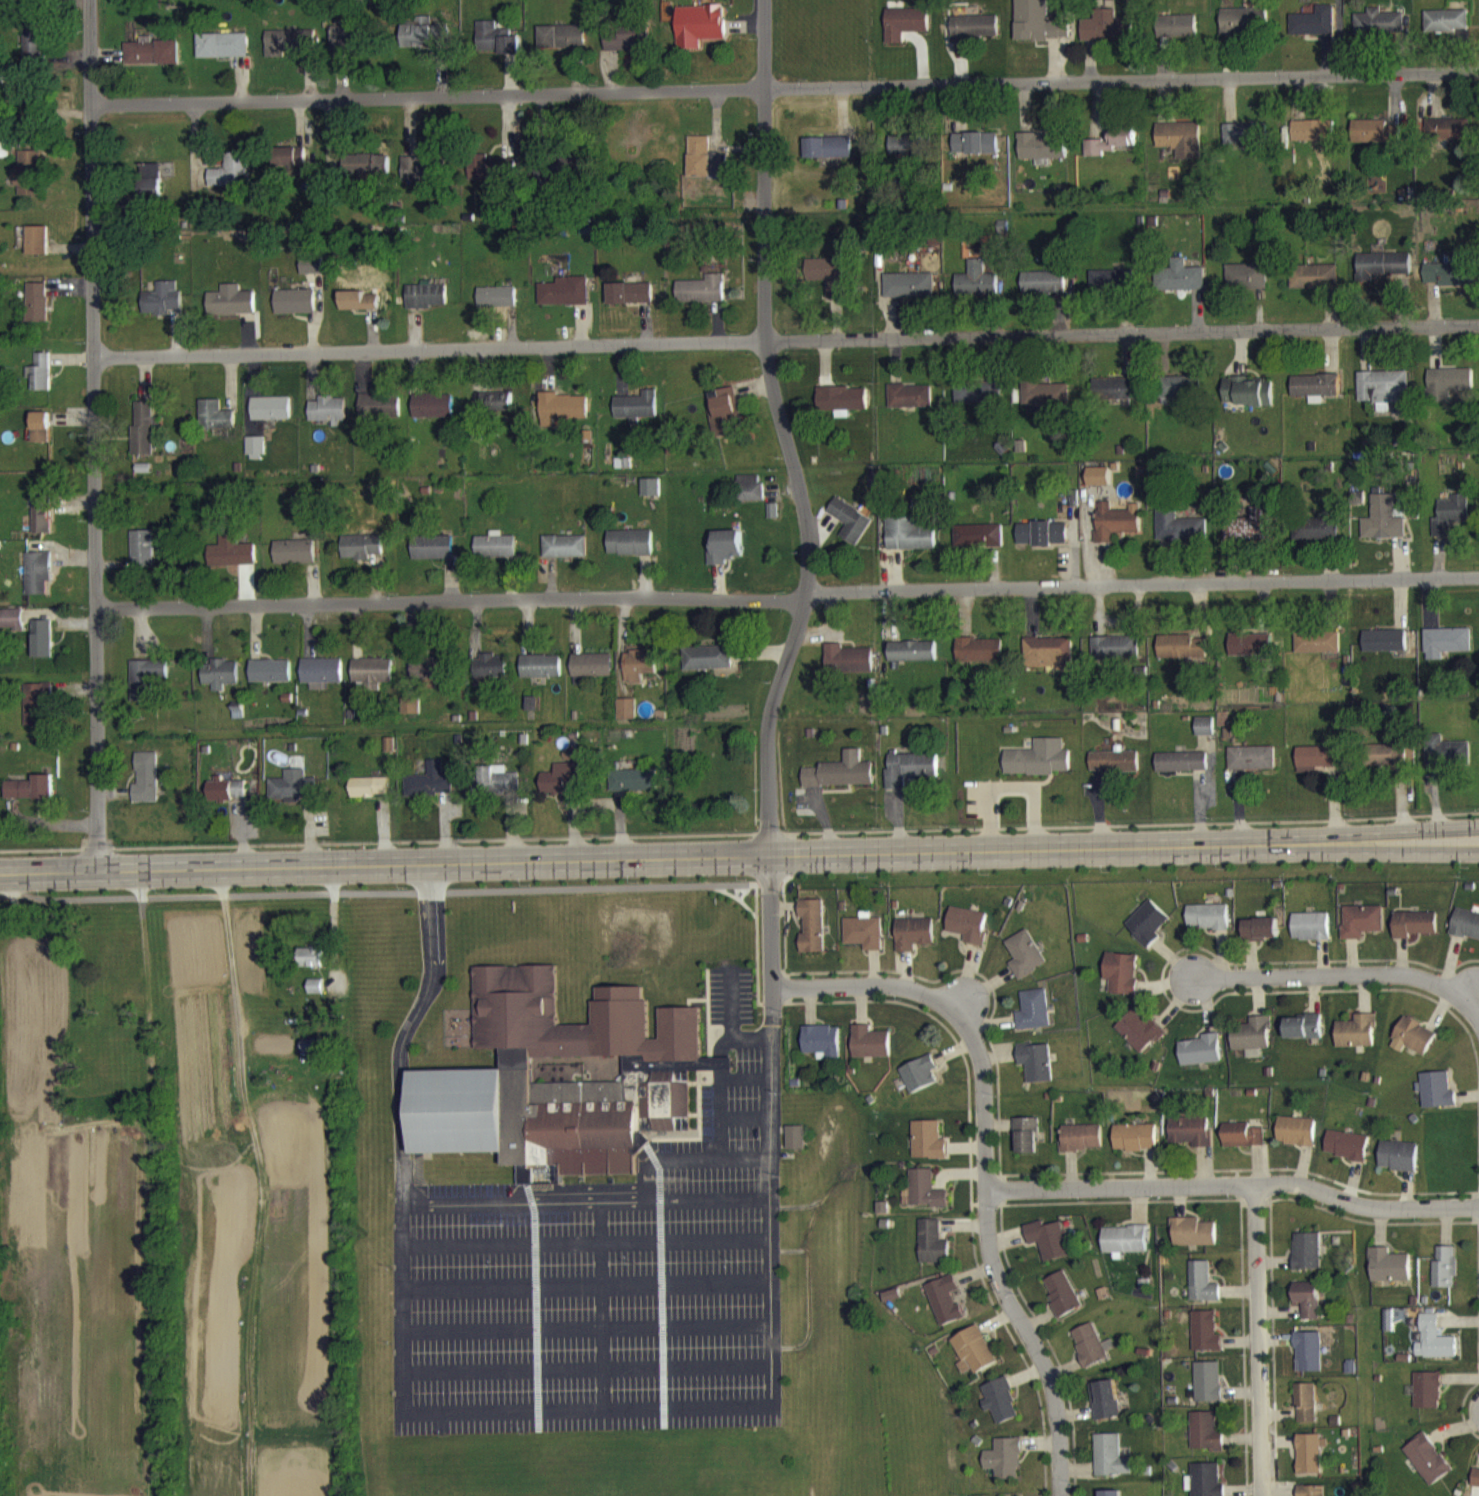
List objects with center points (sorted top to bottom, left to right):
building: (1242, 30)
building: (1037, 31)
building: (1447, 31)
building: (1314, 32)
building: (1379, 32)
building: (904, 33)
building: (698, 35)
building: (1106, 36)
building: (1176, 36)
building: (973, 37)
building: (348, 45)
building: (423, 45)
building: (485, 46)
building: (561, 46)
building: (626, 49)
building: (33, 51)
building: (290, 51)
building: (508, 52)
building: (223, 55)
building: (152, 61)
road: (784, 86)
building: (1312, 140)
building: (1445, 140)
building: (1375, 142)
building: (1242, 143)
building: (1181, 149)
building: (1111, 151)
building: (974, 153)
building: (909, 155)
building: (827, 157)
building: (1041, 157)
building: (289, 166)
building: (703, 167)
building: (366, 174)
building: (419, 179)
building: (490, 180)
building: (232, 181)
building: (28, 183)
building: (152, 190)
building: (38, 250)
building: (1384, 274)
building: (312, 275)
building: (1435, 283)
building: (827, 285)
building: (1179, 286)
building: (1313, 286)
building: (1246, 287)
building: (1111, 290)
building: (1043, 292)
building: (908, 295)
building: (701, 299)
building: (564, 301)
building: (629, 303)
building: (427, 306)
building: (497, 307)
building: (162, 309)
building: (231, 311)
building: (295, 311)
building: (359, 311)
building: (37, 312)
road: (785, 339)
building: (39, 382)
building: (1448, 392)
building: (1179, 397)
building: (1315, 397)
building: (1383, 398)
building: (1114, 399)
building: (1247, 401)
building: (975, 402)
building: (909, 406)
building: (1045, 407)
building: (842, 409)
building: (496, 411)
building: (433, 415)
building: (636, 415)
building: (379, 416)
building: (271, 418)
building: (561, 418)
building: (328, 420)
building: (725, 422)
building: (215, 425)
road: (92, 435)
building: (41, 437)
building: (143, 438)
building: (255, 458)
building: (1098, 486)
road: (801, 496)
building: (651, 498)
building: (751, 498)
building: (1450, 523)
building: (42, 524)
building: (1383, 529)
building: (850, 531)
building: (1116, 531)
building: (1251, 536)
building: (1178, 537)
building: (1317, 538)
building: (1042, 543)
building: (908, 544)
building: (978, 546)
building: (630, 553)
building: (495, 555)
building: (564, 556)
building: (361, 557)
building: (432, 557)
building: (725, 557)
building: (142, 558)
building: (294, 561)
building: (231, 562)
building: (37, 583)
road: (787, 599)
building: (12, 629)
building: (42, 648)
building: (1385, 651)
building: (1317, 652)
building: (1447, 652)
building: (1250, 655)
building: (1115, 657)
building: (1181, 657)
building: (979, 660)
building: (912, 661)
building: (1048, 663)
building: (707, 668)
building: (847, 669)
building: (592, 675)
building: (639, 675)
building: (540, 676)
building: (431, 679)
building: (489, 679)
building: (270, 681)
building: (373, 681)
building: (321, 682)
building: (221, 684)
building: (146, 688)
building: (409, 715)
building: (626, 719)
building: (1205, 736)
building: (1447, 762)
building: (1388, 764)
building: (1038, 768)
building: (1251, 768)
building: (1317, 768)
building: (1114, 772)
building: (1181, 772)
building: (909, 779)
building: (840, 782)
building: (146, 788)
building: (562, 789)
building: (430, 791)
building: (496, 791)
building: (634, 791)
building: (292, 797)
building: (370, 797)
building: (31, 798)
building: (226, 800)
road: (739, 855)
road: (393, 894)
building: (1207, 926)
building: (1361, 931)
building: (1147, 933)
building: (968, 934)
building: (1414, 934)
building: (1466, 934)
building: (812, 936)
building: (1310, 936)
building: (1260, 939)
building: (864, 941)
building: (913, 943)
building: (1025, 964)
building: (311, 967)
road: (1347, 973)
building: (1121, 983)
building: (316, 996)
building: (1033, 1020)
building: (1304, 1037)
building: (1139, 1040)
building: (1356, 1042)
building: (1252, 1044)
building: (1413, 1046)
building: (822, 1051)
building: (870, 1052)
building: (313, 1055)
building: (1201, 1060)
building: (1036, 1072)
building: (919, 1084)
building: (561, 1090)
building: (1437, 1100)
building: (1191, 1141)
building: (1295, 1141)
building: (1026, 1145)
building: (1242, 1145)
building: (795, 1147)
building: (1081, 1147)
building: (1135, 1147)
building: (928, 1150)
building: (1345, 1155)
road: (995, 1160)
building: (1397, 1166)
road: (1240, 1191)
building: (925, 1200)
road: (514, 1202)
building: (1193, 1242)
building: (1049, 1250)
building: (1124, 1250)
building: (932, 1253)
building: (1306, 1261)
building: (1389, 1276)
building: (1445, 1278)
building: (1202, 1293)
building: (1062, 1304)
building: (1308, 1309)
building: (944, 1310)
building: (1389, 1330)
building: (1205, 1342)
road: (1265, 1343)
building: (1434, 1350)
building: (1090, 1355)
building: (973, 1361)
building: (1309, 1362)
building: (1208, 1392)
building: (1428, 1400)
road: (588, 1407)
building: (1105, 1410)
building: (1000, 1411)
building: (1306, 1413)
building: (1205, 1442)
building: (1310, 1464)
building: (1110, 1466)
building: (1003, 1468)
building: (1428, 1469)
building: (1204, 1485)
building: (1476, 1486)
building: (1314, 1495)

